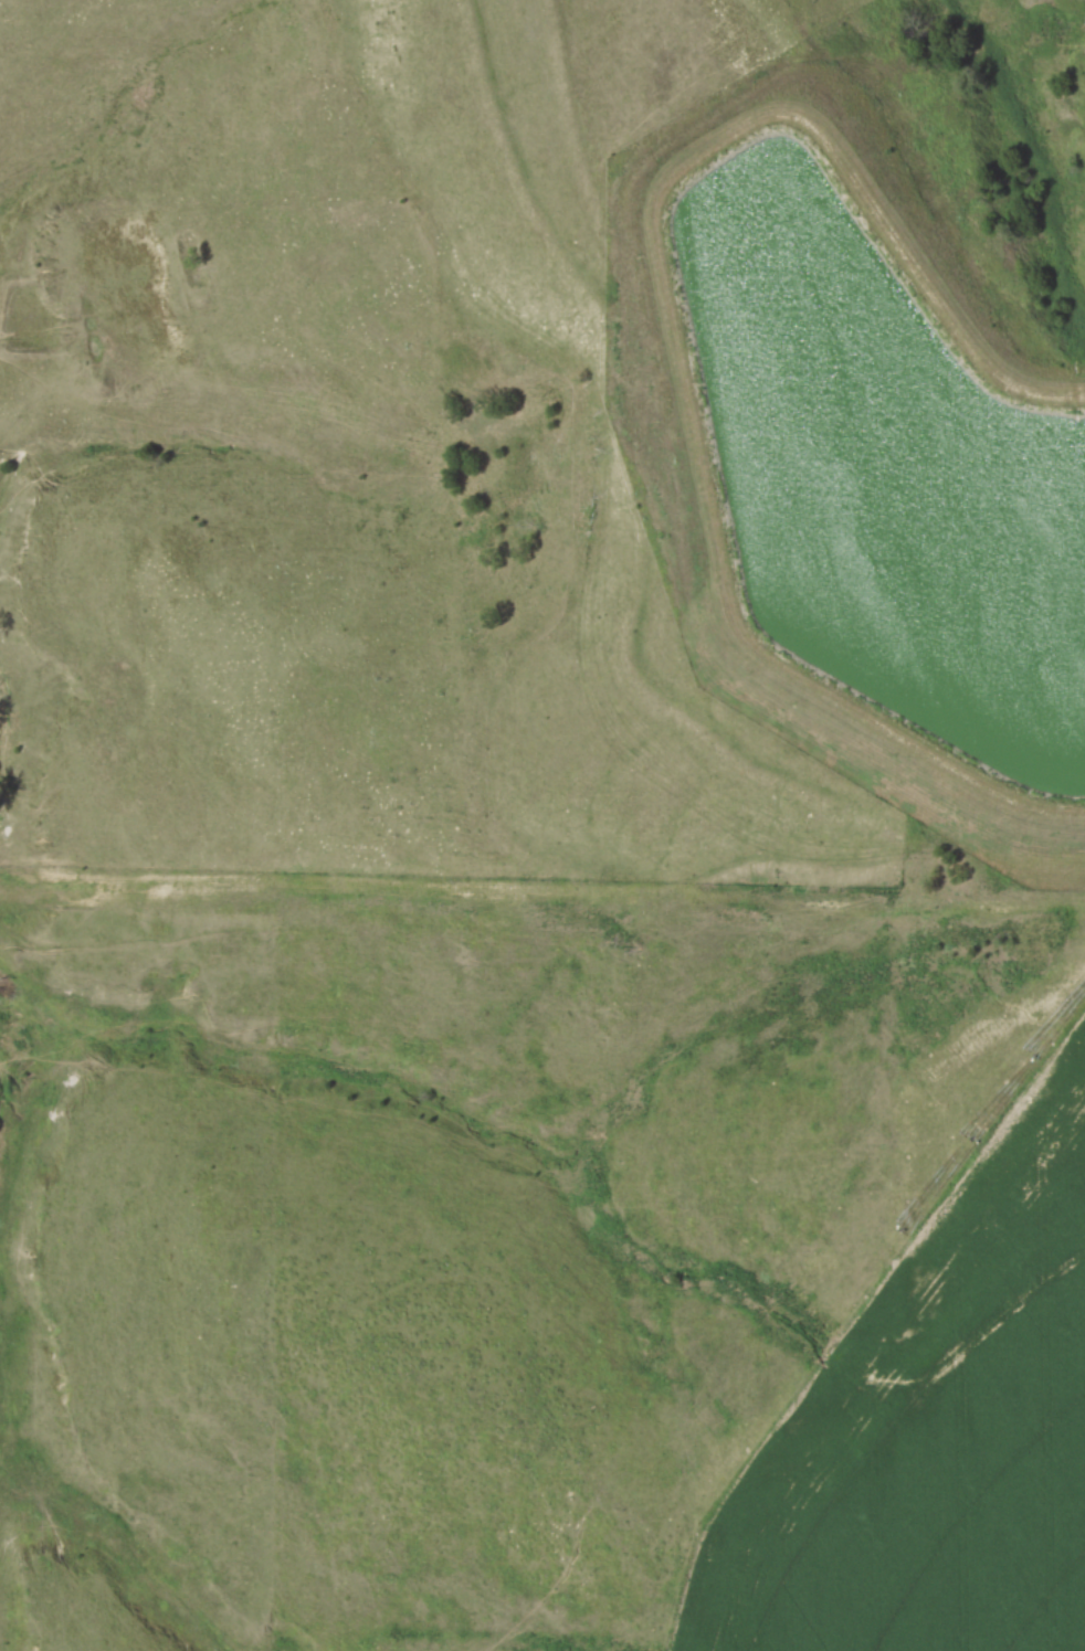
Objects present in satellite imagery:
wastewater plant: (874, 405)

